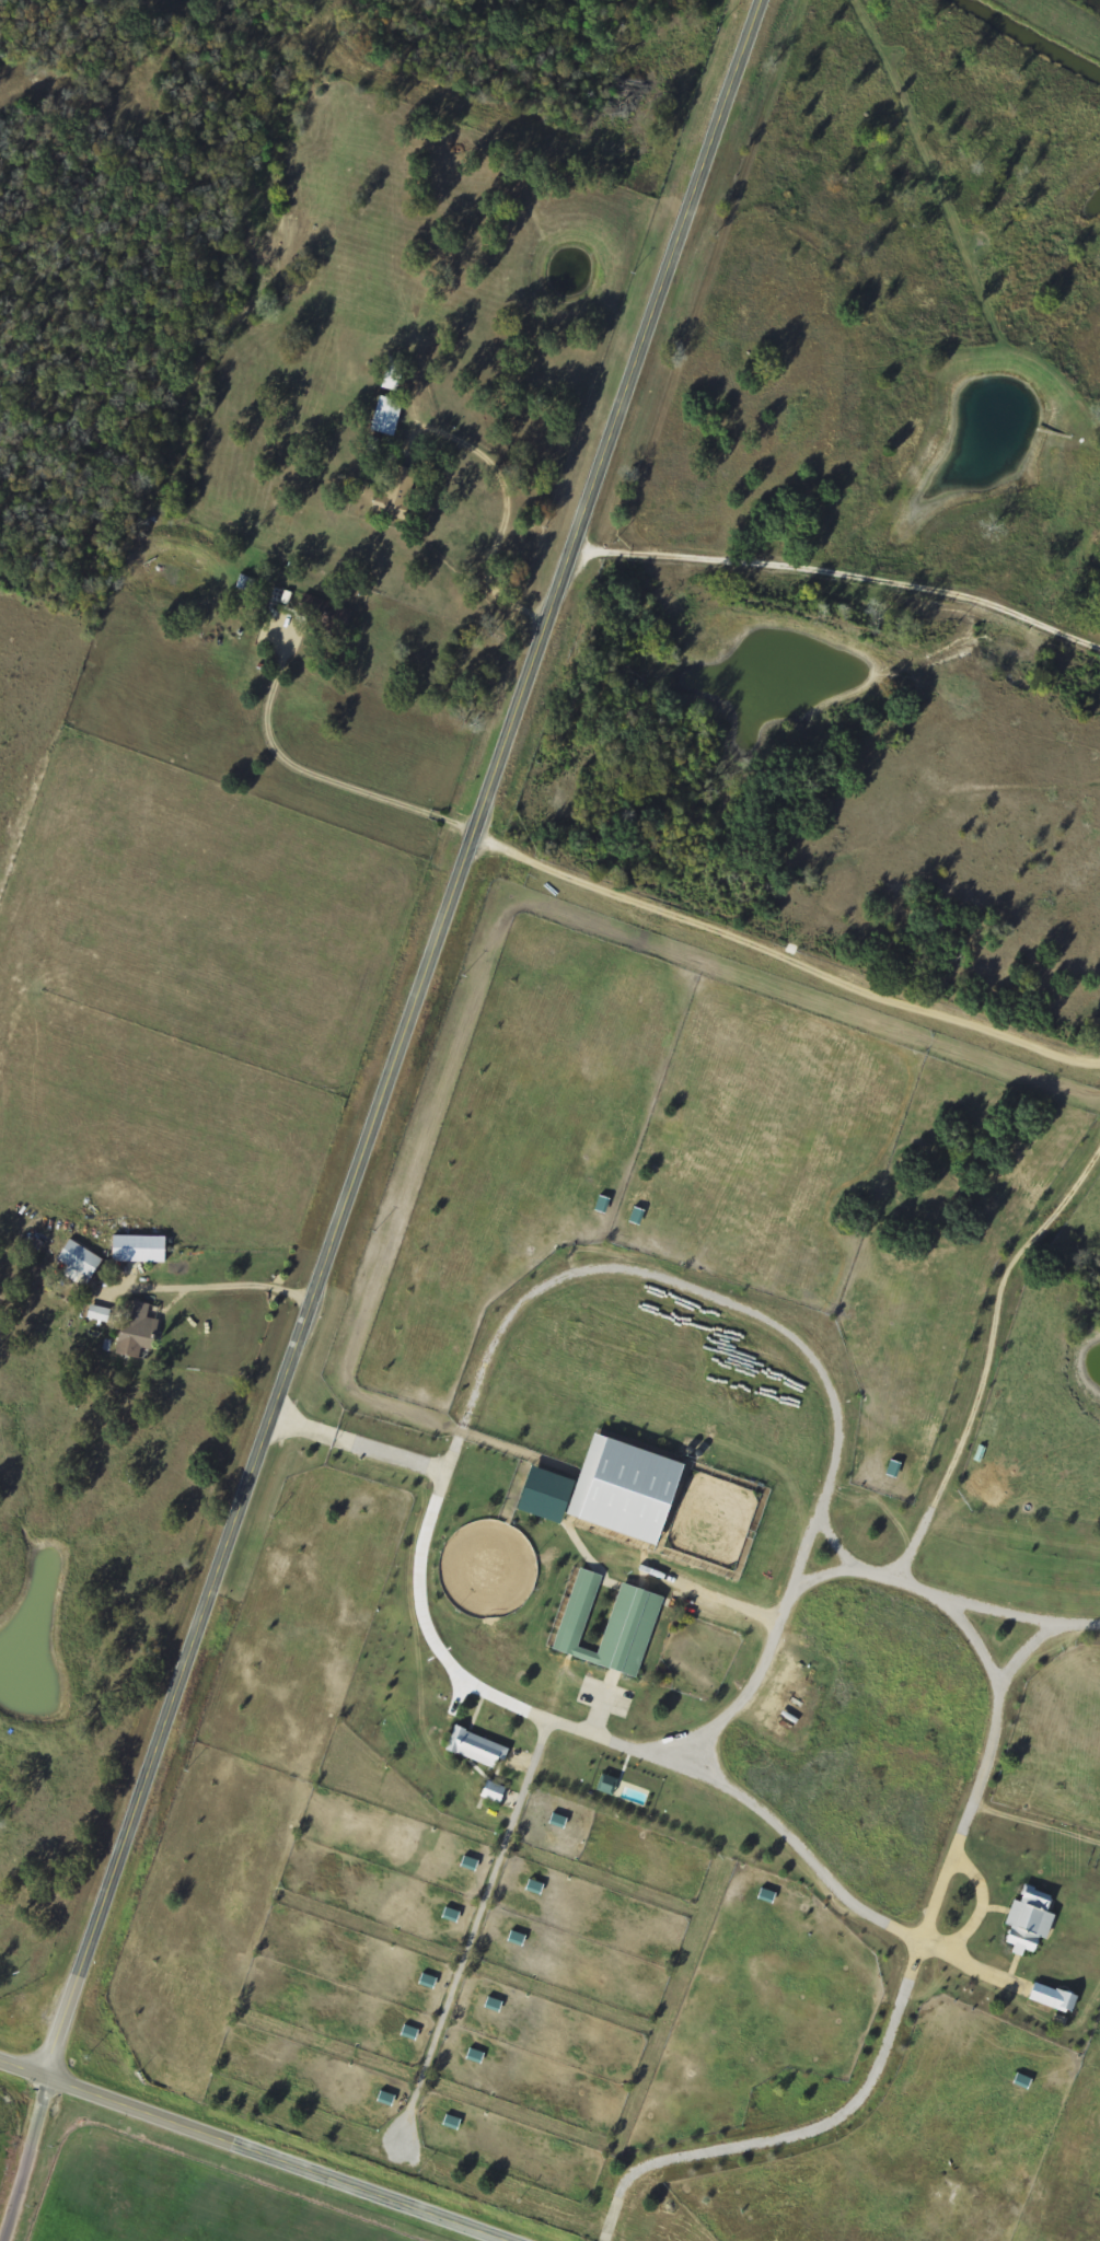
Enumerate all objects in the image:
building: (384, 416)
road: (618, 416)
building: (393, 488)
road: (843, 547)
building: (324, 613)
road: (785, 939)
building: (136, 1249)
building: (77, 1263)
road: (227, 1288)
building: (96, 1313)
building: (129, 1328)
road: (260, 1455)
building: (620, 1489)
building: (541, 1495)
building: (607, 1625)
building: (474, 1747)
building: (605, 1785)
building: (490, 1791)
road: (748, 1800)
building: (1051, 1998)
road: (23, 2143)
road: (254, 2150)

